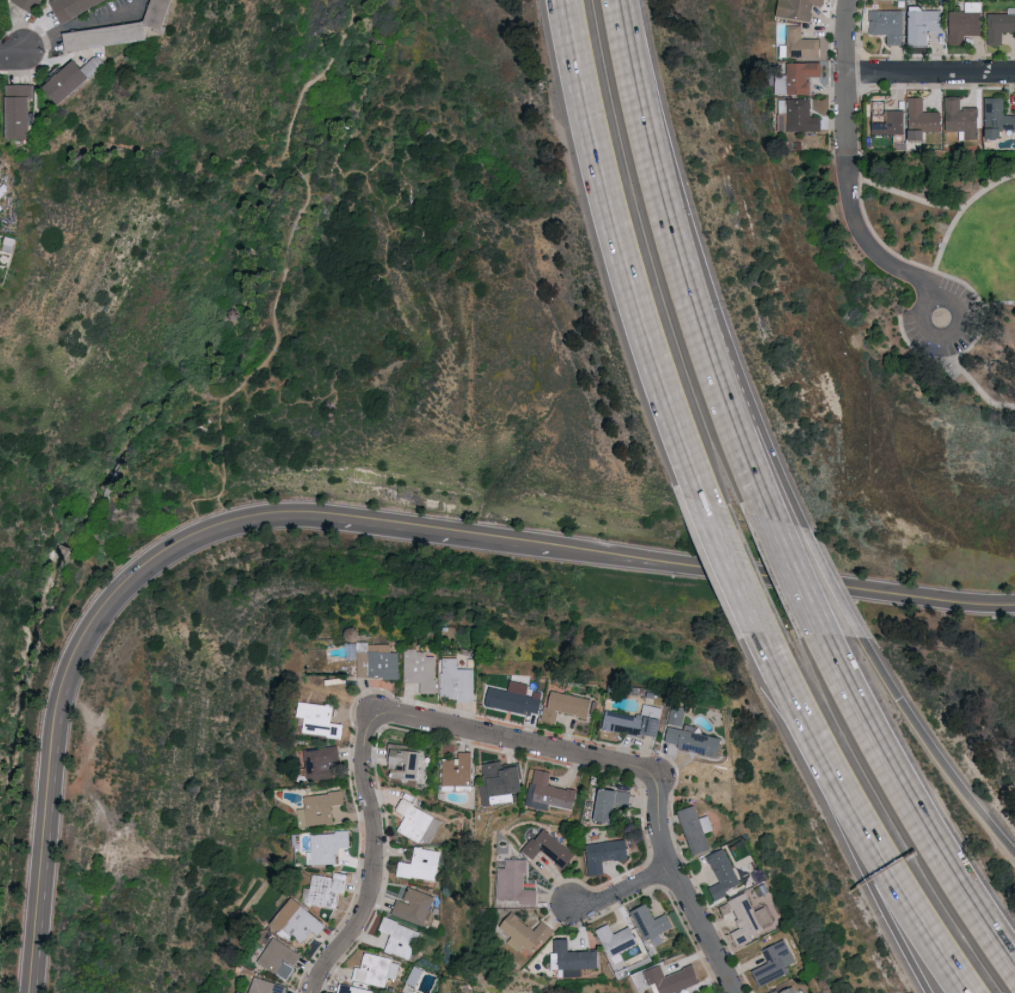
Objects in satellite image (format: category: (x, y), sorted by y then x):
building: (31, 4)
building: (74, 7)
building: (793, 8)
building: (961, 22)
building: (917, 23)
building: (884, 24)
building: (997, 26)
road: (74, 27)
building: (124, 29)
building: (798, 43)
road: (12, 51)
road: (930, 71)
building: (75, 77)
building: (793, 77)
building: (19, 110)
building: (794, 115)
building: (993, 116)
building: (882, 118)
building: (958, 118)
building: (917, 119)
road: (846, 155)
road: (905, 194)
road: (299, 220)
road: (958, 222)
road: (688, 264)
road: (626, 270)
park: (955, 275)
road: (930, 285)
road: (920, 291)
road: (990, 306)
parking lot: (946, 318)
road: (937, 338)
road: (973, 382)
road: (1014, 408)
road: (352, 524)
road: (804, 578)
road: (816, 579)
road: (741, 584)
building: (378, 660)
building: (421, 669)
building: (457, 679)
road: (785, 679)
building: (516, 697)
building: (567, 706)
building: (678, 715)
building: (321, 719)
building: (637, 721)
building: (695, 740)
road: (514, 743)
road: (928, 752)
building: (406, 761)
building: (323, 762)
building: (458, 769)
building: (500, 783)
building: (549, 792)
building: (614, 803)
road: (913, 807)
building: (321, 808)
building: (413, 819)
building: (698, 829)
building: (329, 846)
road: (374, 848)
building: (551, 848)
building: (607, 853)
road: (860, 859)
road: (882, 861)
building: (421, 864)
building: (724, 873)
road: (676, 879)
building: (516, 882)
building: (326, 888)
road: (622, 891)
building: (416, 906)
building: (749, 917)
building: (300, 920)
building: (653, 923)
building: (526, 934)
building: (401, 937)
building: (620, 939)
building: (281, 958)
building: (574, 958)
building: (776, 961)
building: (377, 969)
building: (674, 979)
building: (269, 986)
building: (353, 989)
building: (787, 990)
building: (246, 992)
building: (404, 992)

